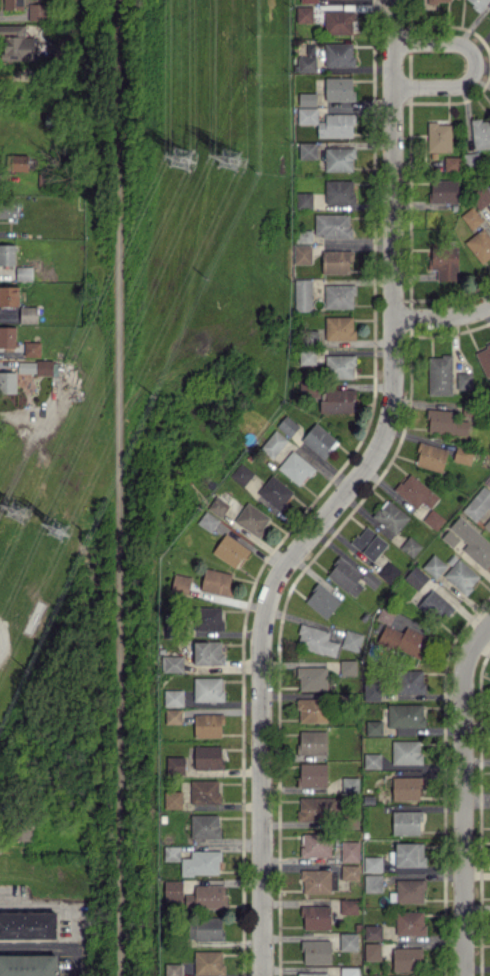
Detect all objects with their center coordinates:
building: (308, 1)
building: (438, 1)
building: (12, 4)
building: (36, 11)
building: (304, 13)
building: (338, 21)
building: (15, 43)
building: (338, 54)
building: (307, 63)
road: (475, 64)
building: (339, 88)
building: (307, 98)
building: (307, 115)
building: (336, 125)
building: (480, 133)
building: (439, 136)
building: (308, 150)
building: (339, 158)
power tower: (183, 159)
building: (18, 162)
building: (451, 162)
power tower: (234, 163)
building: (444, 190)
building: (339, 191)
building: (481, 197)
building: (304, 199)
building: (7, 210)
building: (471, 217)
building: (333, 224)
building: (304, 236)
building: (480, 245)
building: (302, 253)
building: (7, 254)
building: (336, 261)
building: (445, 262)
building: (23, 272)
building: (303, 294)
building: (9, 295)
building: (339, 295)
building: (28, 314)
road: (442, 317)
building: (339, 327)
building: (7, 336)
building: (31, 348)
building: (307, 357)
building: (484, 359)
building: (340, 365)
building: (35, 366)
building: (440, 374)
building: (464, 380)
building: (8, 381)
building: (338, 400)
building: (446, 422)
building: (287, 425)
building: (319, 440)
building: (274, 443)
building: (463, 454)
building: (431, 456)
building: (296, 467)
building: (241, 474)
building: (488, 481)
road: (121, 487)
building: (274, 491)
building: (416, 491)
road: (342, 493)
building: (478, 503)
building: (218, 505)
power tower: (17, 514)
building: (391, 516)
building: (252, 518)
building: (434, 519)
building: (208, 520)
building: (487, 525)
power tower: (63, 532)
building: (469, 541)
building: (368, 543)
building: (411, 546)
building: (230, 550)
building: (434, 565)
building: (388, 571)
building: (461, 575)
building: (351, 577)
building: (415, 577)
building: (216, 581)
building: (180, 583)
building: (321, 600)
building: (435, 605)
building: (385, 615)
building: (208, 617)
building: (352, 639)
building: (316, 640)
building: (405, 640)
building: (207, 652)
building: (172, 663)
building: (348, 666)
building: (312, 678)
building: (411, 681)
building: (207, 688)
building: (371, 689)
building: (173, 697)
building: (312, 709)
building: (173, 715)
building: (406, 717)
building: (208, 725)
building: (374, 727)
building: (313, 742)
building: (406, 751)
building: (208, 756)
building: (372, 760)
building: (175, 764)
building: (313, 774)
building: (350, 784)
building: (406, 787)
building: (204, 790)
road: (463, 795)
building: (173, 799)
building: (317, 807)
building: (407, 822)
building: (205, 825)
building: (315, 844)
building: (350, 851)
building: (172, 852)
building: (409, 854)
building: (201, 862)
building: (372, 863)
building: (350, 871)
building: (316, 880)
building: (373, 882)
building: (173, 889)
building: (410, 889)
building: (207, 896)
road: (48, 902)
building: (349, 905)
building: (316, 917)
building: (409, 922)
building: (28, 924)
building: (205, 928)
building: (373, 931)
building: (349, 941)
building: (316, 951)
building: (372, 951)
building: (407, 958)
building: (208, 962)
building: (28, 965)
building: (173, 969)
building: (349, 971)
building: (313, 973)

